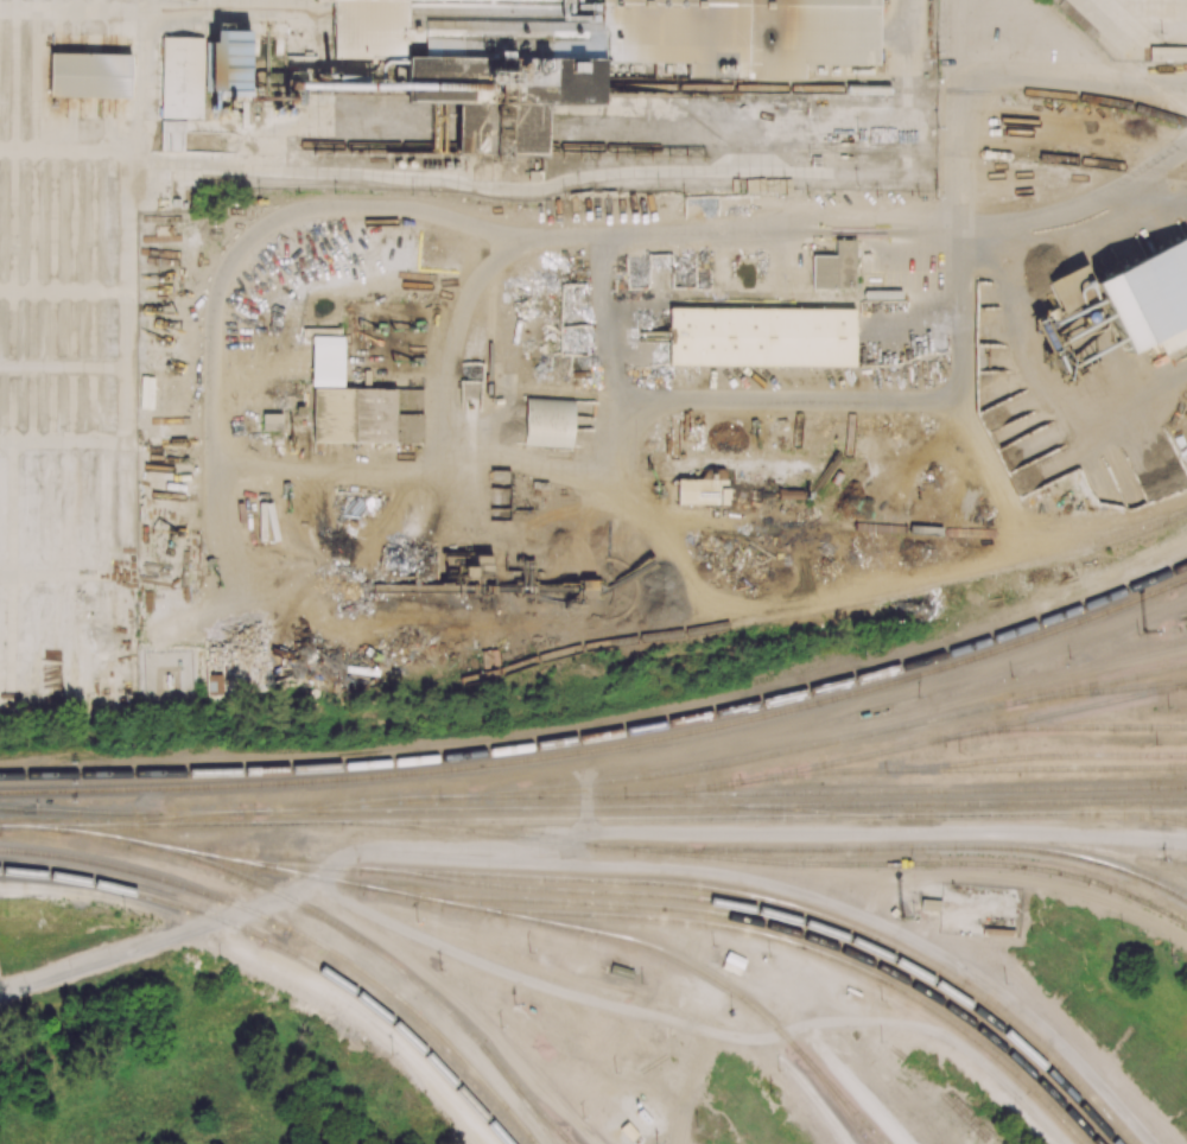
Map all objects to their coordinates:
road: (907, 26)
railway: (1122, 56)
railway: (747, 88)
railway: (709, 150)
road: (1080, 208)
railway: (871, 295)
road: (490, 450)
railway: (844, 452)
railway: (1186, 578)
railway: (813, 612)
railway: (775, 617)
railway: (901, 673)
railway: (1080, 688)
railway: (1099, 691)
railway: (1126, 698)
railway: (1080, 712)
railway: (1013, 724)
railway: (604, 735)
railway: (963, 735)
railway: (604, 746)
railway: (1039, 768)
railway: (818, 773)
railway: (622, 778)
railway: (915, 790)
railway: (640, 807)
railway: (66, 811)
railway: (815, 811)
railway: (1141, 813)
railway: (113, 814)
railway: (1172, 814)
railway: (602, 819)
railway: (8, 827)
railway: (442, 828)
road: (577, 833)
railway: (867, 849)
railway: (927, 863)
railway: (679, 885)
railway: (698, 910)
railway: (789, 919)
railway: (328, 921)
railway: (303, 934)
railway: (761, 935)
railway: (286, 948)
railway: (700, 970)
road: (693, 1028)
railway: (843, 1095)
railway: (523, 1100)
railway: (565, 1138)

